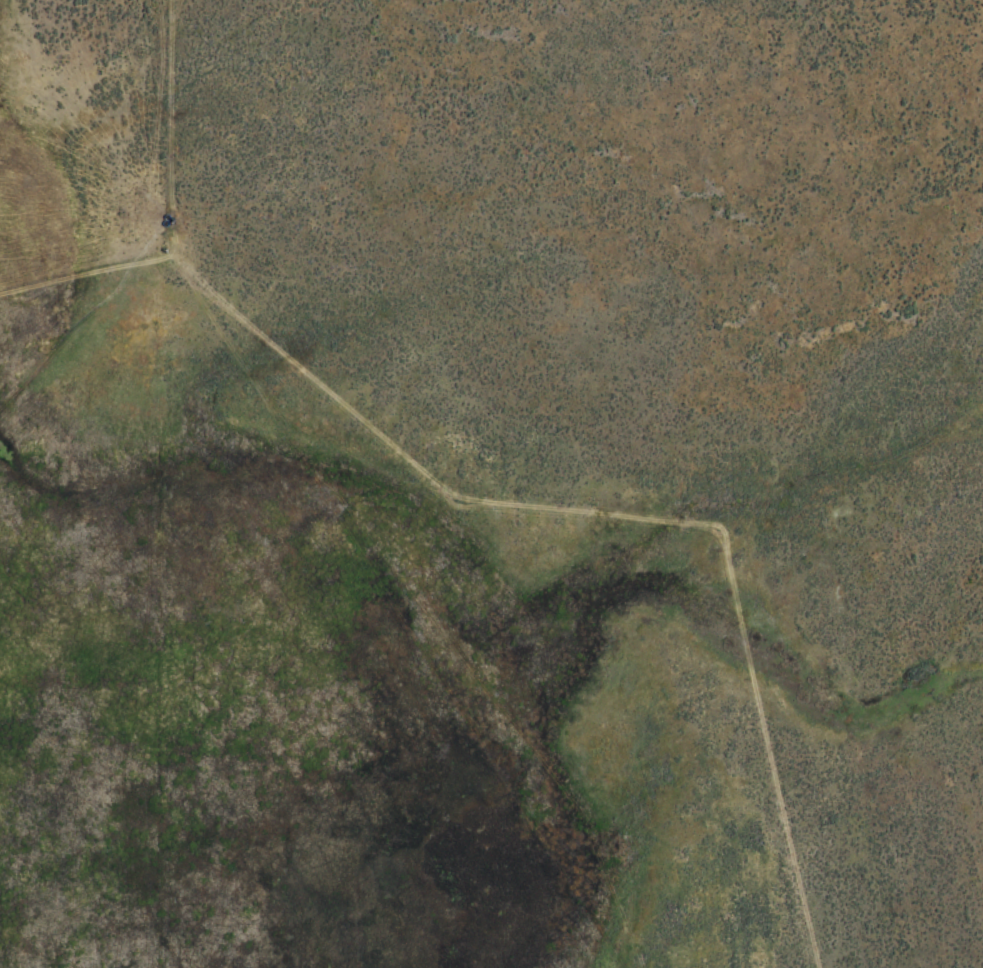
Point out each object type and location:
crop: (491, 484)

